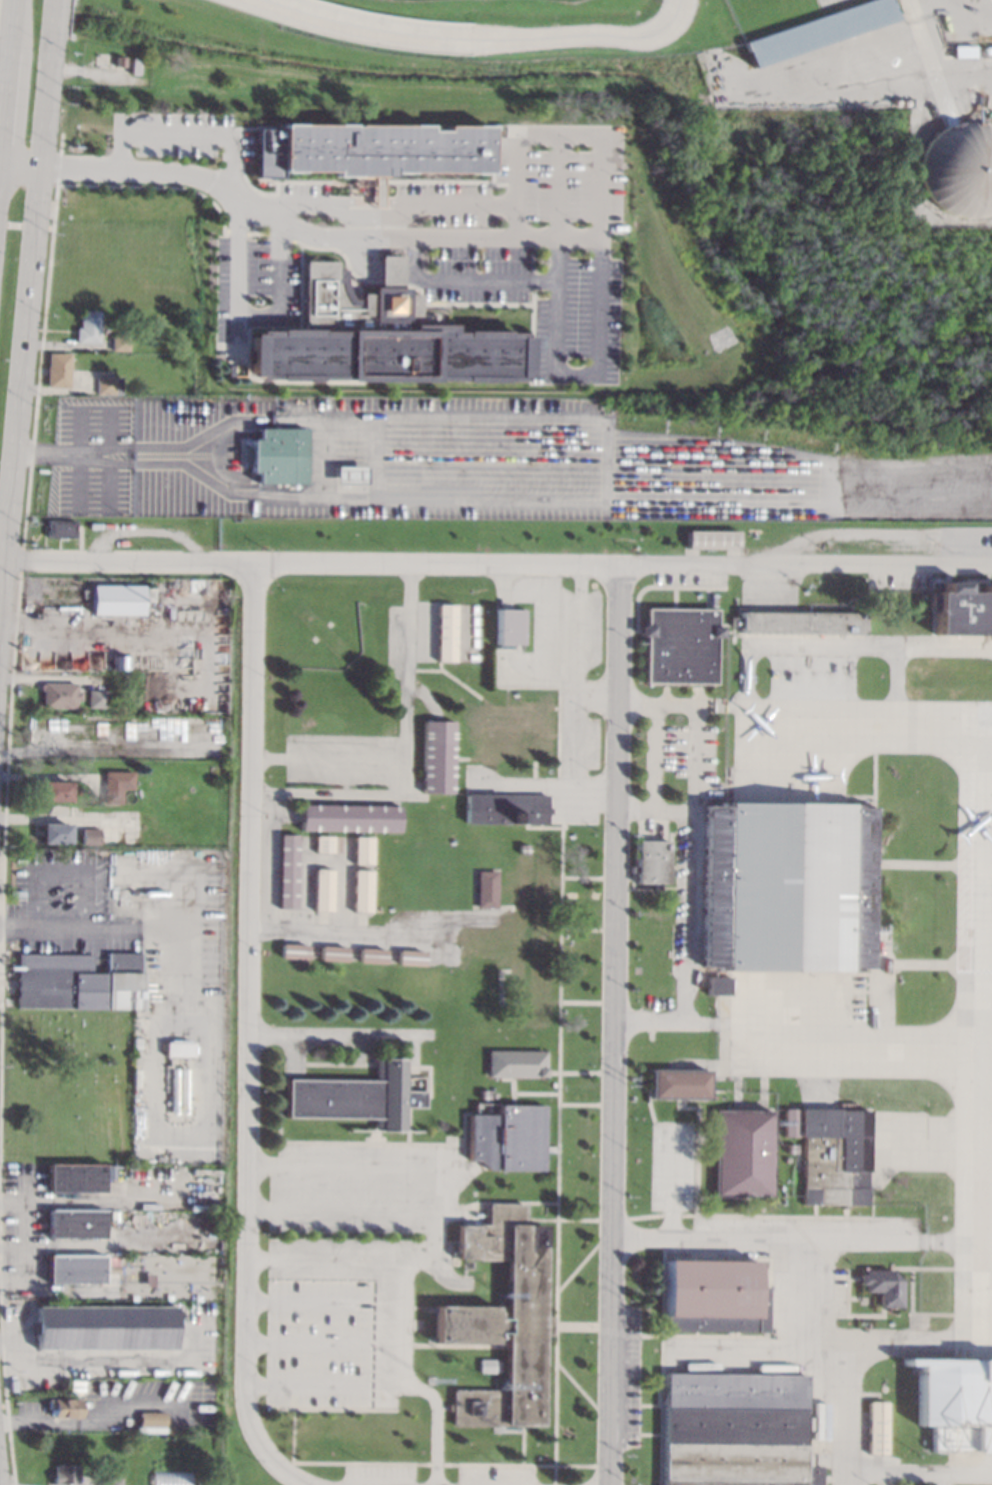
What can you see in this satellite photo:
road: (914, 9)
building: (820, 30)
road: (479, 37)
building: (965, 50)
building: (980, 53)
airport: (592, 55)
building: (119, 60)
building: (134, 65)
road: (934, 68)
road: (6, 72)
road: (811, 79)
road: (2, 91)
road: (575, 127)
parking lot: (182, 134)
road: (188, 134)
building: (370, 148)
building: (959, 168)
parking lot: (527, 179)
road: (556, 183)
parking lot: (298, 188)
road: (405, 204)
road: (294, 228)
road: (311, 247)
road: (32, 257)
road: (375, 268)
road: (467, 277)
parking lot: (255, 286)
parking lot: (540, 298)
road: (247, 317)
building: (87, 327)
building: (376, 337)
building: (117, 343)
building: (56, 370)
road: (579, 376)
building: (104, 384)
road: (47, 455)
parking lot: (154, 455)
building: (279, 455)
road: (217, 456)
parking lot: (589, 468)
building: (350, 474)
building: (60, 528)
building: (667, 528)
road: (147, 529)
building: (713, 539)
road: (7, 546)
road: (499, 562)
building: (150, 593)
building: (117, 598)
road: (2, 604)
building: (963, 610)
building: (801, 622)
building: (508, 626)
building: (444, 633)
building: (680, 645)
road: (406, 676)
building: (59, 694)
building: (96, 698)
building: (108, 698)
building: (510, 734)
building: (436, 757)
road: (326, 759)
building: (116, 784)
building: (55, 790)
road: (326, 793)
building: (506, 808)
road: (656, 810)
road: (66, 817)
building: (350, 817)
building: (54, 833)
building: (90, 836)
building: (327, 843)
building: (540, 847)
building: (523, 848)
building: (362, 849)
road: (691, 859)
building: (653, 861)
building: (287, 871)
building: (788, 886)
building: (533, 887)
building: (486, 888)
building: (323, 889)
building: (362, 890)
building: (482, 937)
building: (294, 951)
building: (333, 952)
road: (159, 953)
building: (373, 955)
building: (411, 957)
building: (76, 981)
building: (720, 985)
building: (531, 989)
airport: (601, 996)
road: (614, 1023)
road: (328, 1034)
road: (245, 1035)
building: (138, 1043)
building: (178, 1049)
airport apron: (857, 1050)
building: (515, 1063)
building: (679, 1083)
building: (484, 1094)
building: (358, 1096)
building: (792, 1121)
building: (508, 1137)
building: (792, 1149)
building: (742, 1152)
building: (835, 1156)
building: (75, 1177)
road: (340, 1212)
road: (437, 1214)
building: (477, 1214)
building: (75, 1223)
road: (779, 1239)
building: (74, 1268)
building: (109, 1269)
building: (885, 1286)
building: (715, 1296)
road: (322, 1302)
building: (502, 1319)
building: (104, 1327)
road: (321, 1345)
road: (844, 1350)
building: (486, 1365)
road: (405, 1381)
road: (327, 1386)
building: (955, 1402)
building: (64, 1406)
building: (151, 1421)
building: (877, 1428)
building: (736, 1429)
building: (827, 1432)
building: (64, 1473)
road: (921, 1474)
road: (936, 1480)
building: (112, 1481)

